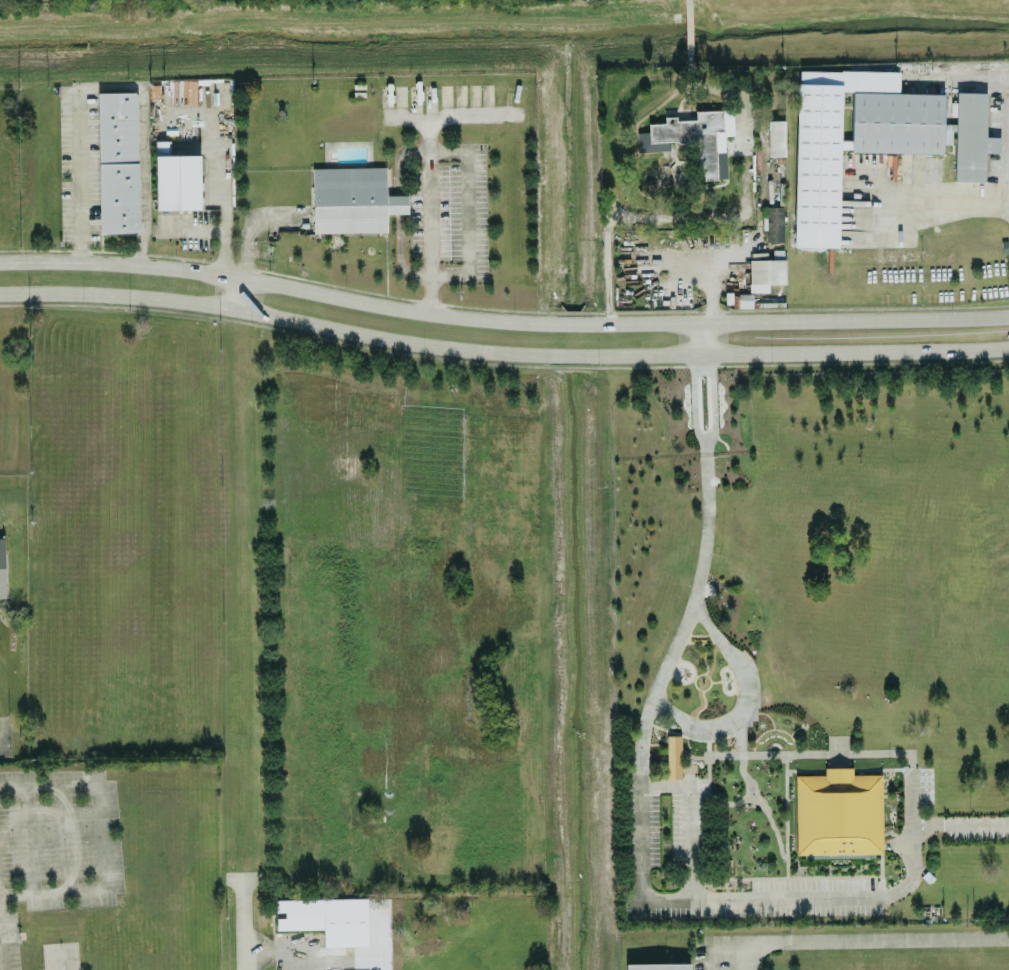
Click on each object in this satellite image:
road: (108, 87)
road: (450, 114)
building: (872, 136)
building: (776, 137)
building: (694, 138)
road: (437, 150)
building: (118, 161)
road: (220, 162)
building: (177, 181)
building: (353, 198)
road: (946, 198)
road: (427, 213)
road: (250, 223)
building: (774, 223)
road: (190, 230)
building: (765, 272)
road: (230, 292)
road: (115, 295)
road: (350, 297)
building: (745, 300)
road: (1003, 315)
road: (849, 319)
road: (701, 338)
road: (618, 355)
road: (693, 398)
building: (2, 567)
road: (715, 631)
road: (641, 736)
road: (1, 743)
road: (661, 786)
building: (838, 812)
road: (960, 824)
road: (62, 839)
road: (25, 840)
road: (100, 843)
road: (831, 895)
building: (327, 918)
road: (241, 923)
road: (844, 940)
road: (285, 952)
road: (739, 956)
building: (658, 966)

